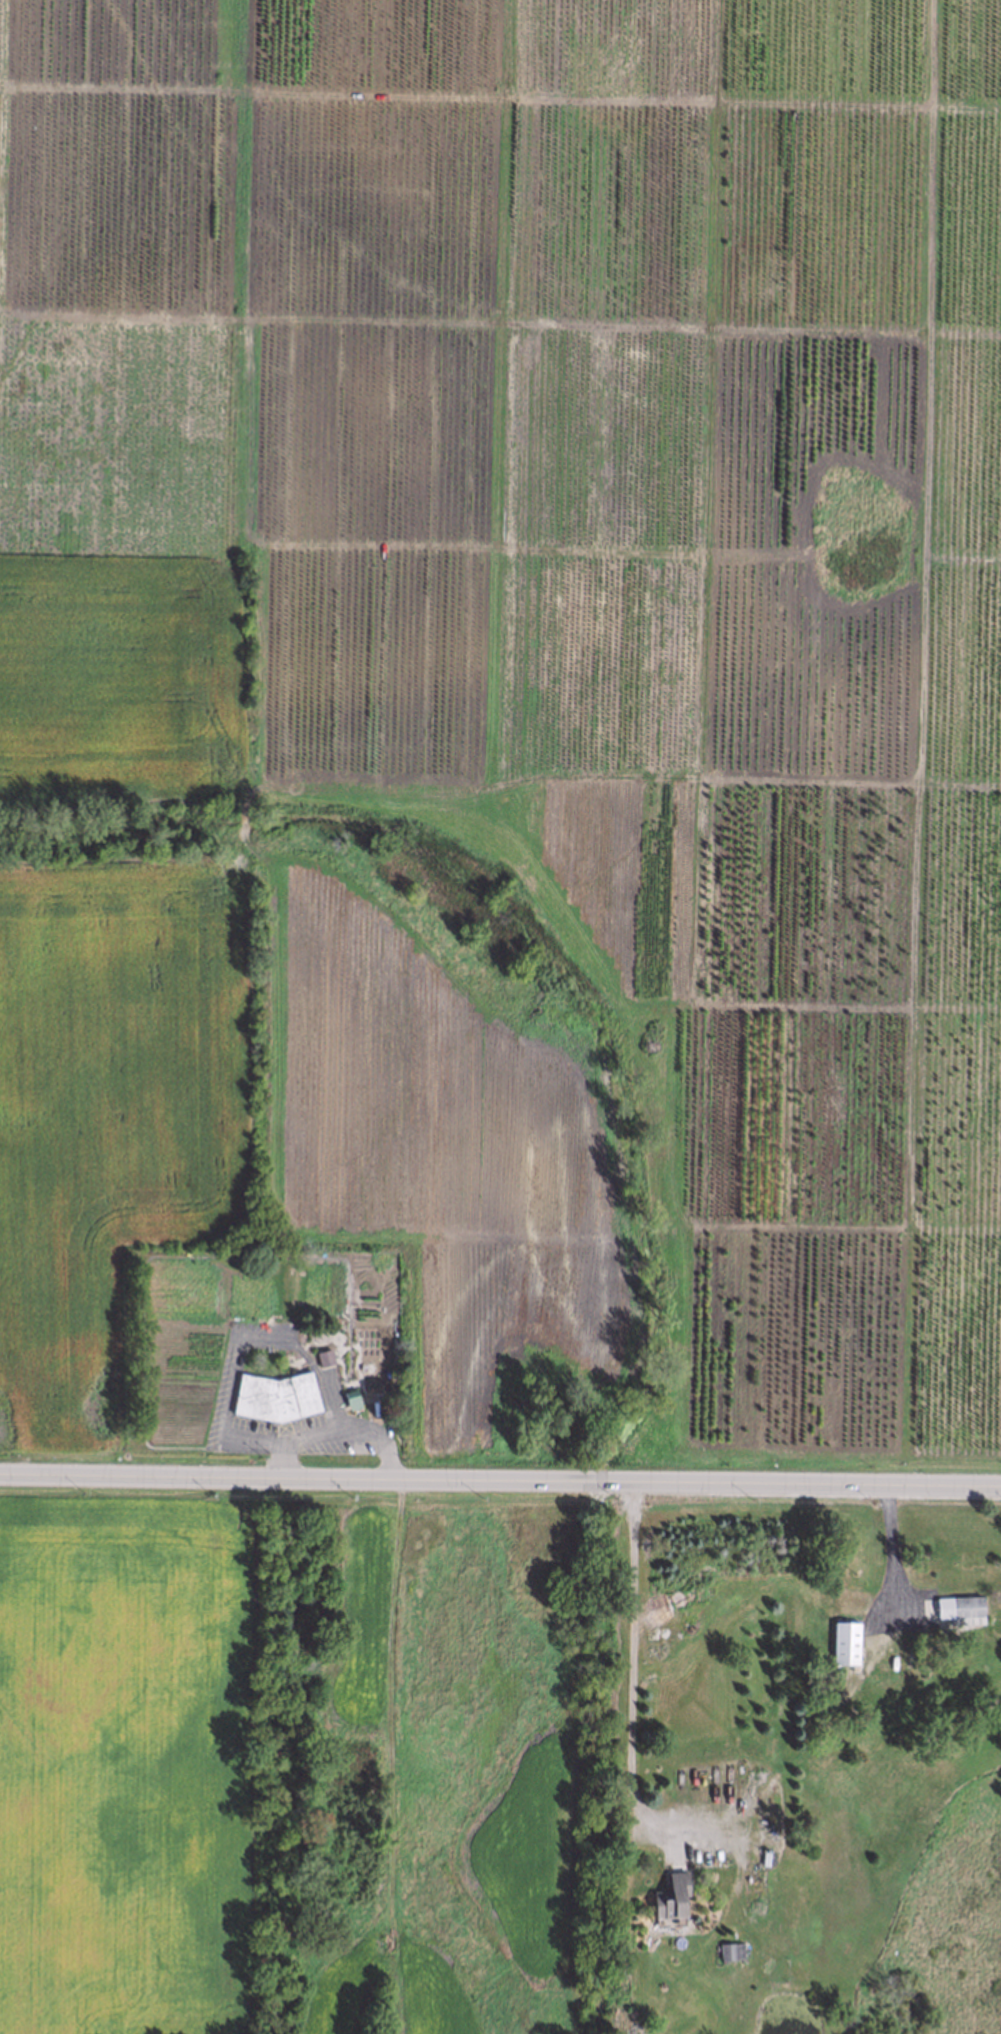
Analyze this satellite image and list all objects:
road: (250, 1334)
building: (320, 1357)
building: (275, 1396)
building: (350, 1397)
road: (363, 1434)
road: (500, 1481)
road: (890, 1551)
building: (957, 1608)
building: (843, 1641)
road: (629, 1691)
building: (668, 1896)
building: (729, 1950)

